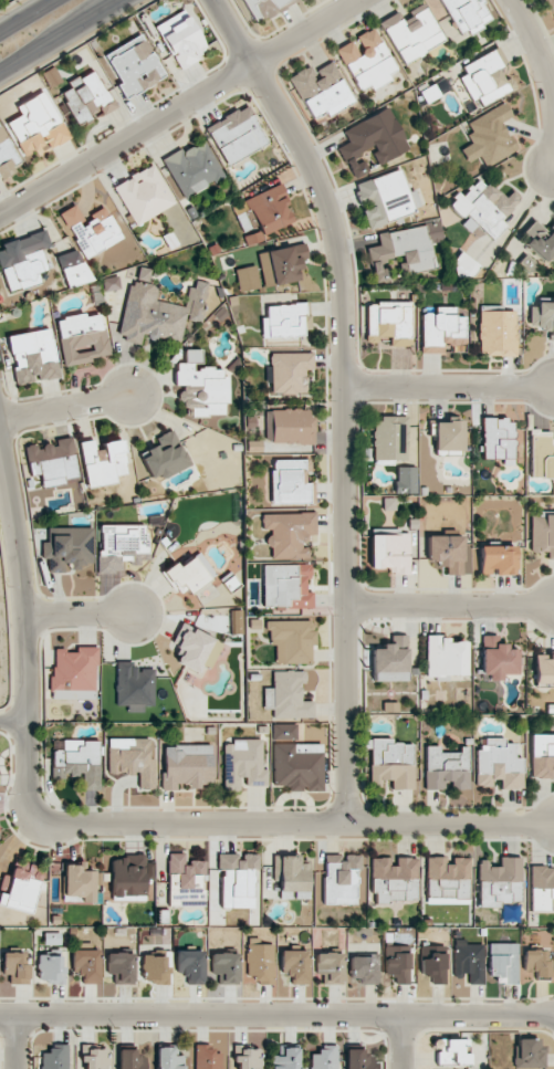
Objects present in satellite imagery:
building: (547, 0)
road: (9, 4)
building: (264, 7)
building: (467, 14)
road: (25, 15)
building: (411, 33)
road: (59, 34)
building: (181, 40)
building: (366, 60)
building: (134, 66)
building: (484, 78)
road: (545, 81)
building: (321, 90)
building: (86, 98)
road: (177, 105)
building: (36, 125)
building: (236, 135)
building: (489, 136)
building: (372, 140)
building: (7, 155)
building: (192, 168)
building: (143, 195)
building: (384, 199)
building: (483, 208)
building: (268, 212)
building: (90, 230)
building: (540, 241)
building: (404, 249)
building: (22, 260)
building: (286, 263)
building: (464, 266)
building: (72, 268)
building: (111, 283)
building: (157, 311)
building: (543, 317)
building: (283, 322)
building: (387, 323)
building: (442, 329)
building: (496, 333)
building: (82, 338)
building: (289, 371)
building: (201, 387)
road: (448, 387)
road: (342, 396)
road: (65, 408)
building: (292, 426)
building: (447, 434)
building: (389, 438)
building: (498, 440)
building: (542, 454)
building: (164, 457)
building: (52, 461)
building: (102, 462)
building: (406, 480)
building: (288, 482)
building: (289, 534)
building: (542, 534)
building: (119, 545)
building: (69, 549)
building: (446, 552)
building: (390, 553)
building: (496, 559)
building: (189, 573)
building: (286, 586)
road: (448, 606)
road: (77, 616)
building: (237, 621)
road: (22, 631)
building: (291, 640)
building: (196, 651)
building: (445, 657)
building: (498, 659)
building: (390, 661)
building: (544, 669)
building: (74, 673)
building: (134, 687)
building: (286, 695)
road: (13, 723)
building: (283, 732)
building: (542, 755)
building: (132, 759)
building: (77, 762)
building: (390, 763)
building: (243, 764)
building: (499, 764)
building: (187, 766)
building: (297, 766)
building: (446, 768)
road: (294, 826)
building: (128, 878)
building: (292, 878)
building: (237, 879)
building: (341, 879)
building: (395, 879)
building: (447, 880)
building: (186, 881)
building: (499, 882)
building: (79, 884)
building: (542, 888)
building: (21, 889)
building: (260, 962)
building: (468, 962)
building: (503, 962)
building: (536, 962)
building: (433, 963)
building: (86, 965)
building: (190, 965)
building: (295, 965)
building: (397, 966)
building: (15, 967)
building: (121, 967)
building: (155, 967)
building: (226, 967)
building: (330, 967)
building: (50, 968)
building: (364, 970)
road: (276, 1015)
road: (400, 1041)
road: (17, 1042)
building: (451, 1051)
building: (527, 1054)
building: (55, 1057)
building: (92, 1057)
building: (207, 1057)
building: (169, 1058)
building: (247, 1058)
building: (325, 1058)
building: (130, 1059)
building: (285, 1059)
building: (357, 1059)

